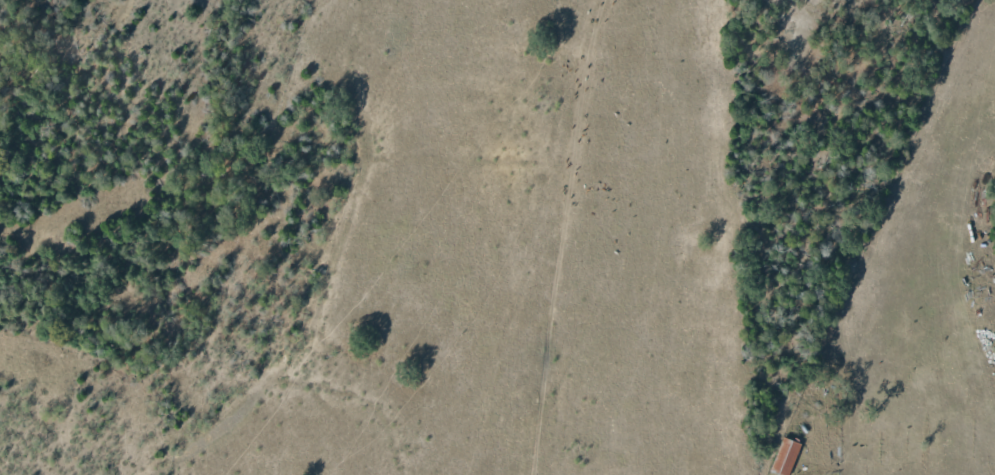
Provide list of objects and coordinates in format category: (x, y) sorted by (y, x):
road: (527, 238)
building: (784, 456)

